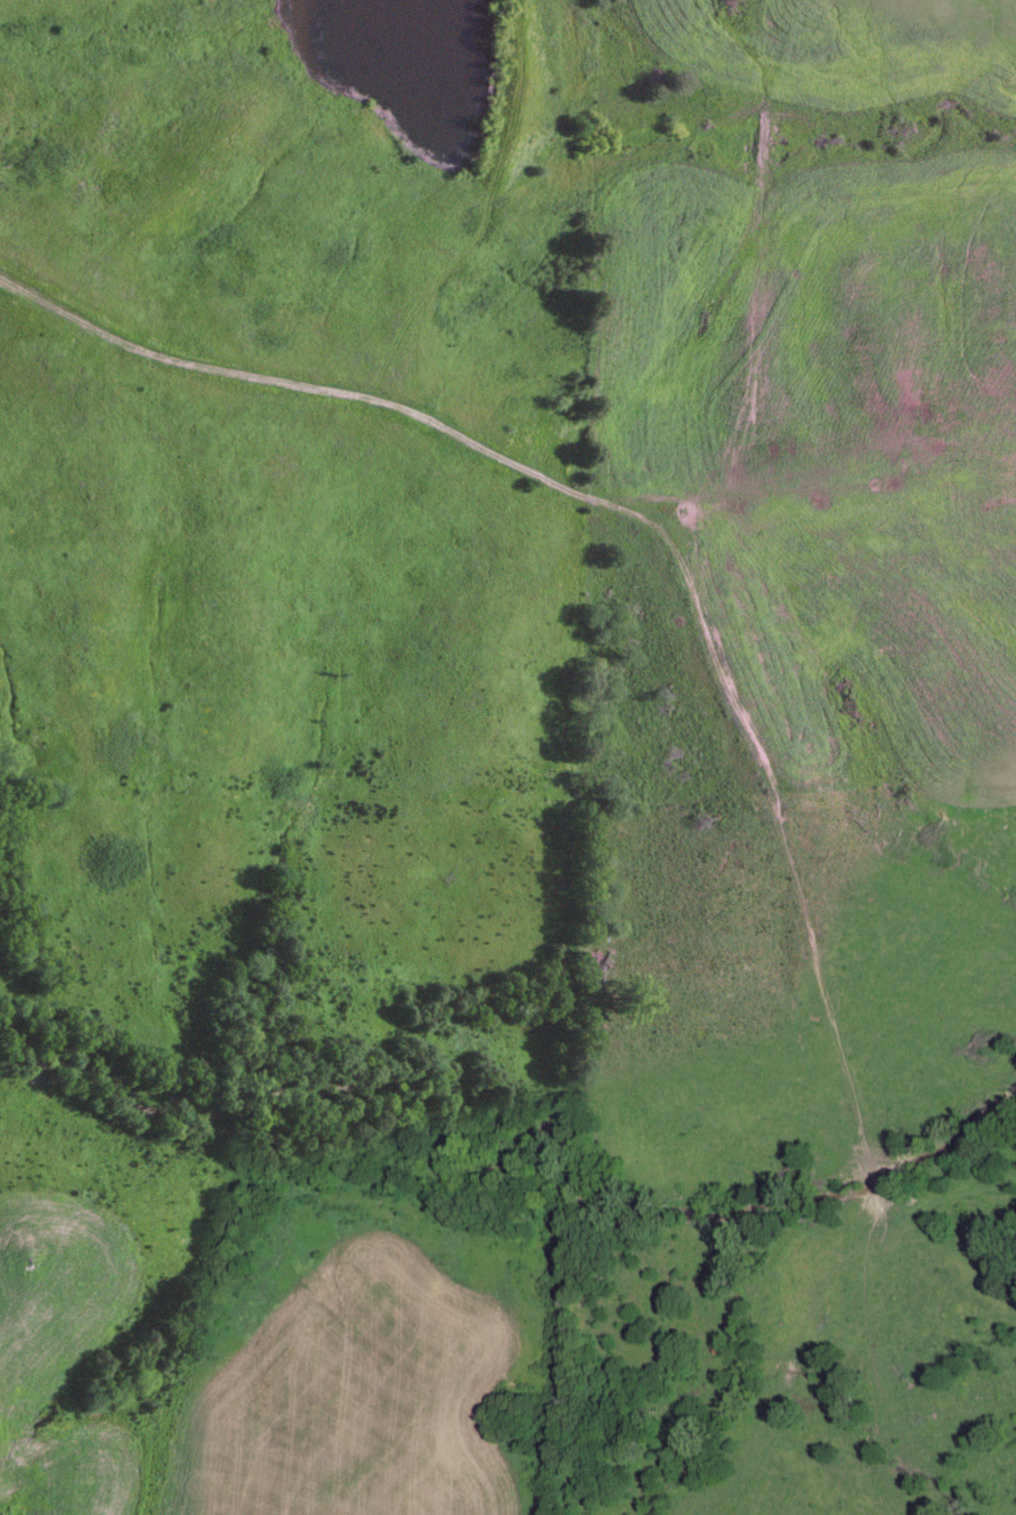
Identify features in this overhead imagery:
road: (699, 604)

